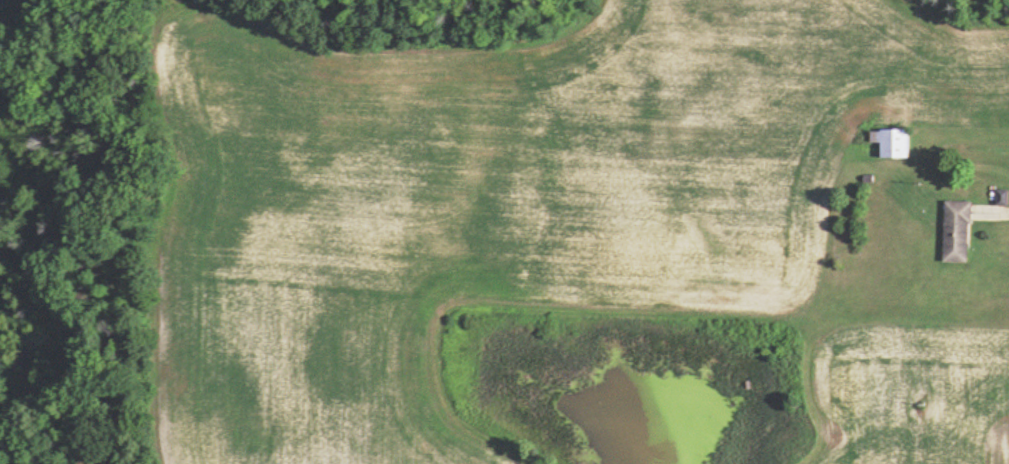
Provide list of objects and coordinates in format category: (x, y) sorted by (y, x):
building: (893, 141)
building: (957, 231)

